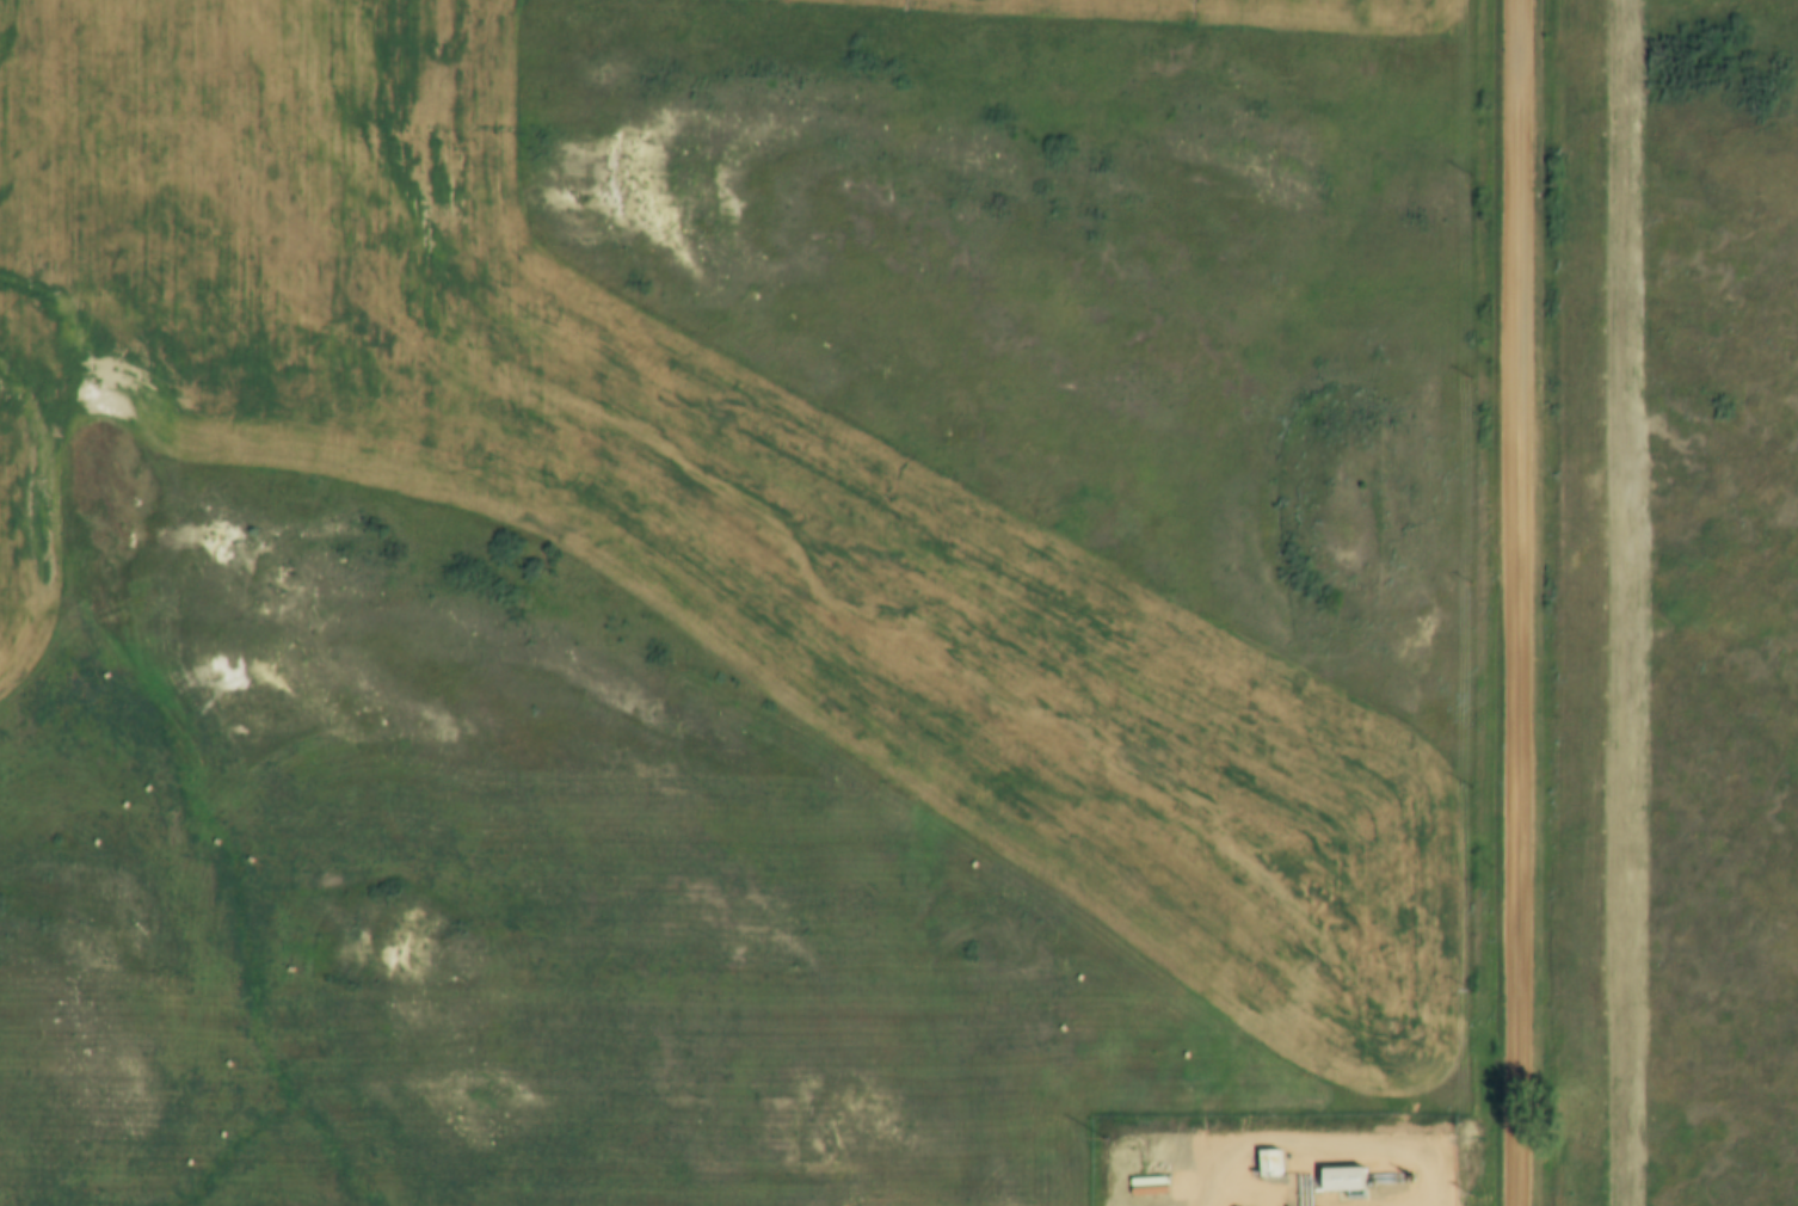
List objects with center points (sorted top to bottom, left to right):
road: (1513, 603)

